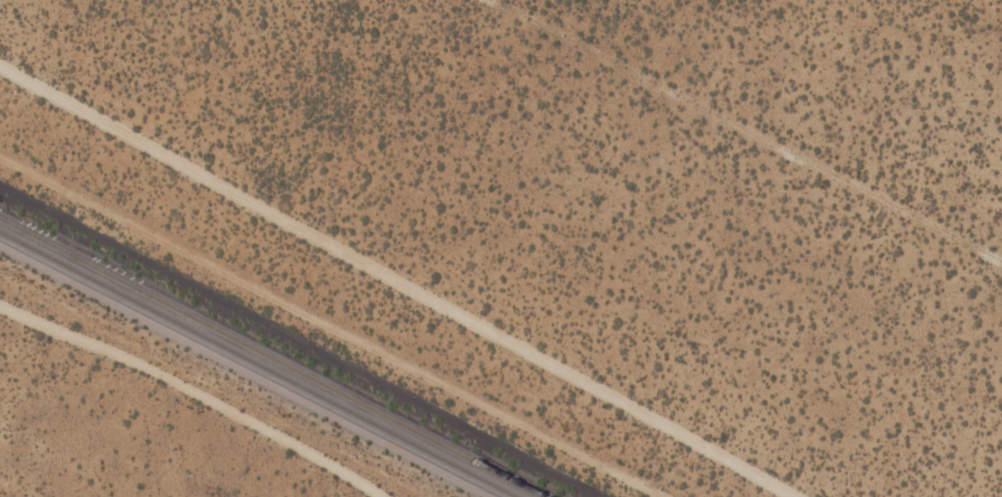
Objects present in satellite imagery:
road: (406, 279)
railway: (270, 357)
railway: (258, 364)
road: (193, 393)

